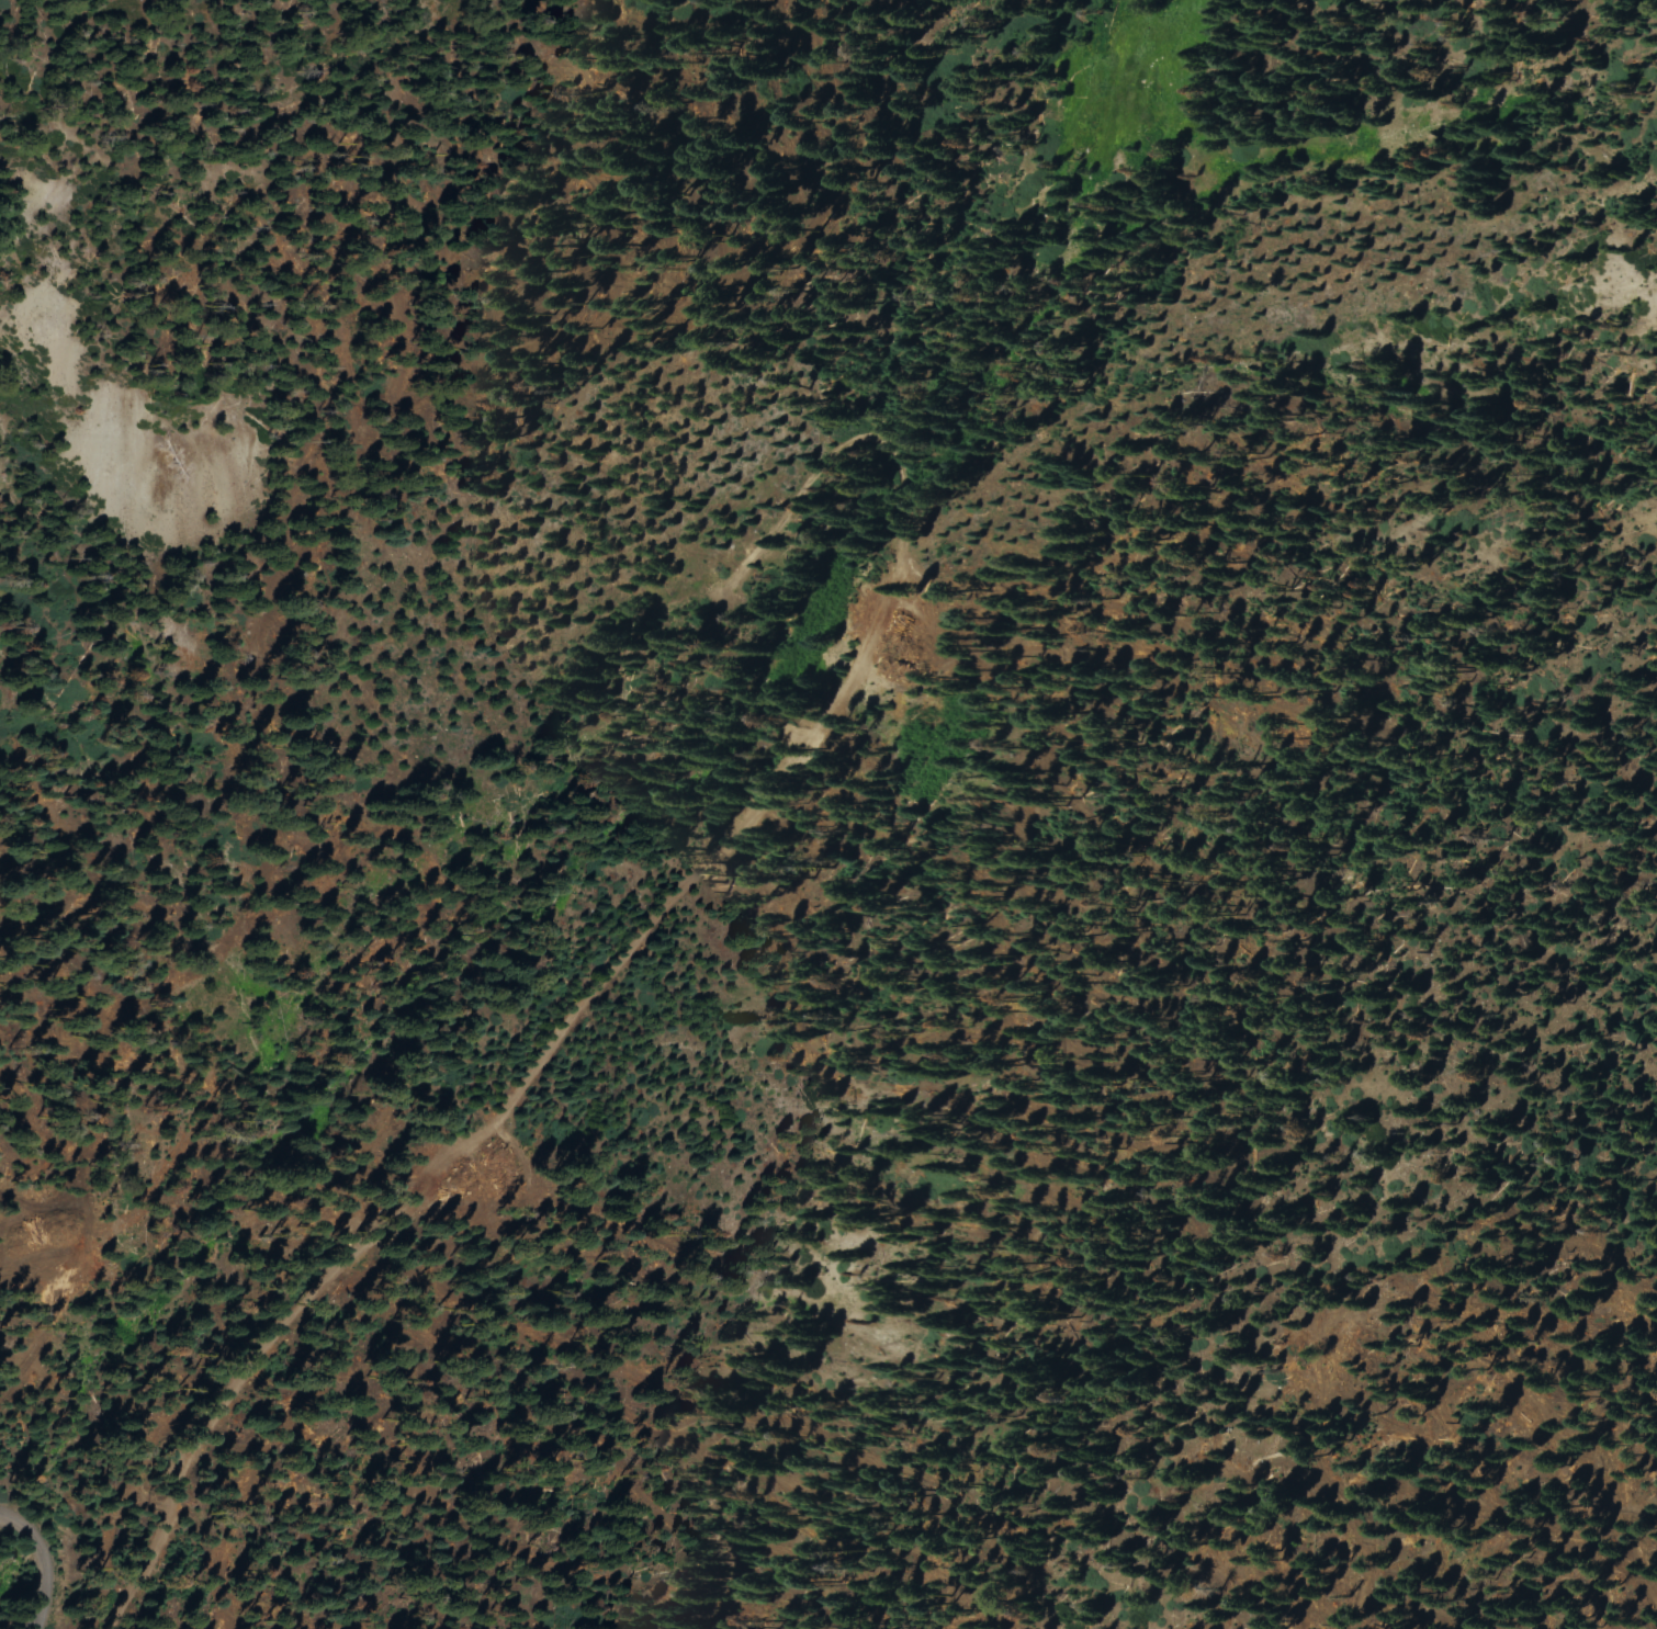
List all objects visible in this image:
road: (629, 952)
road: (40, 1562)

